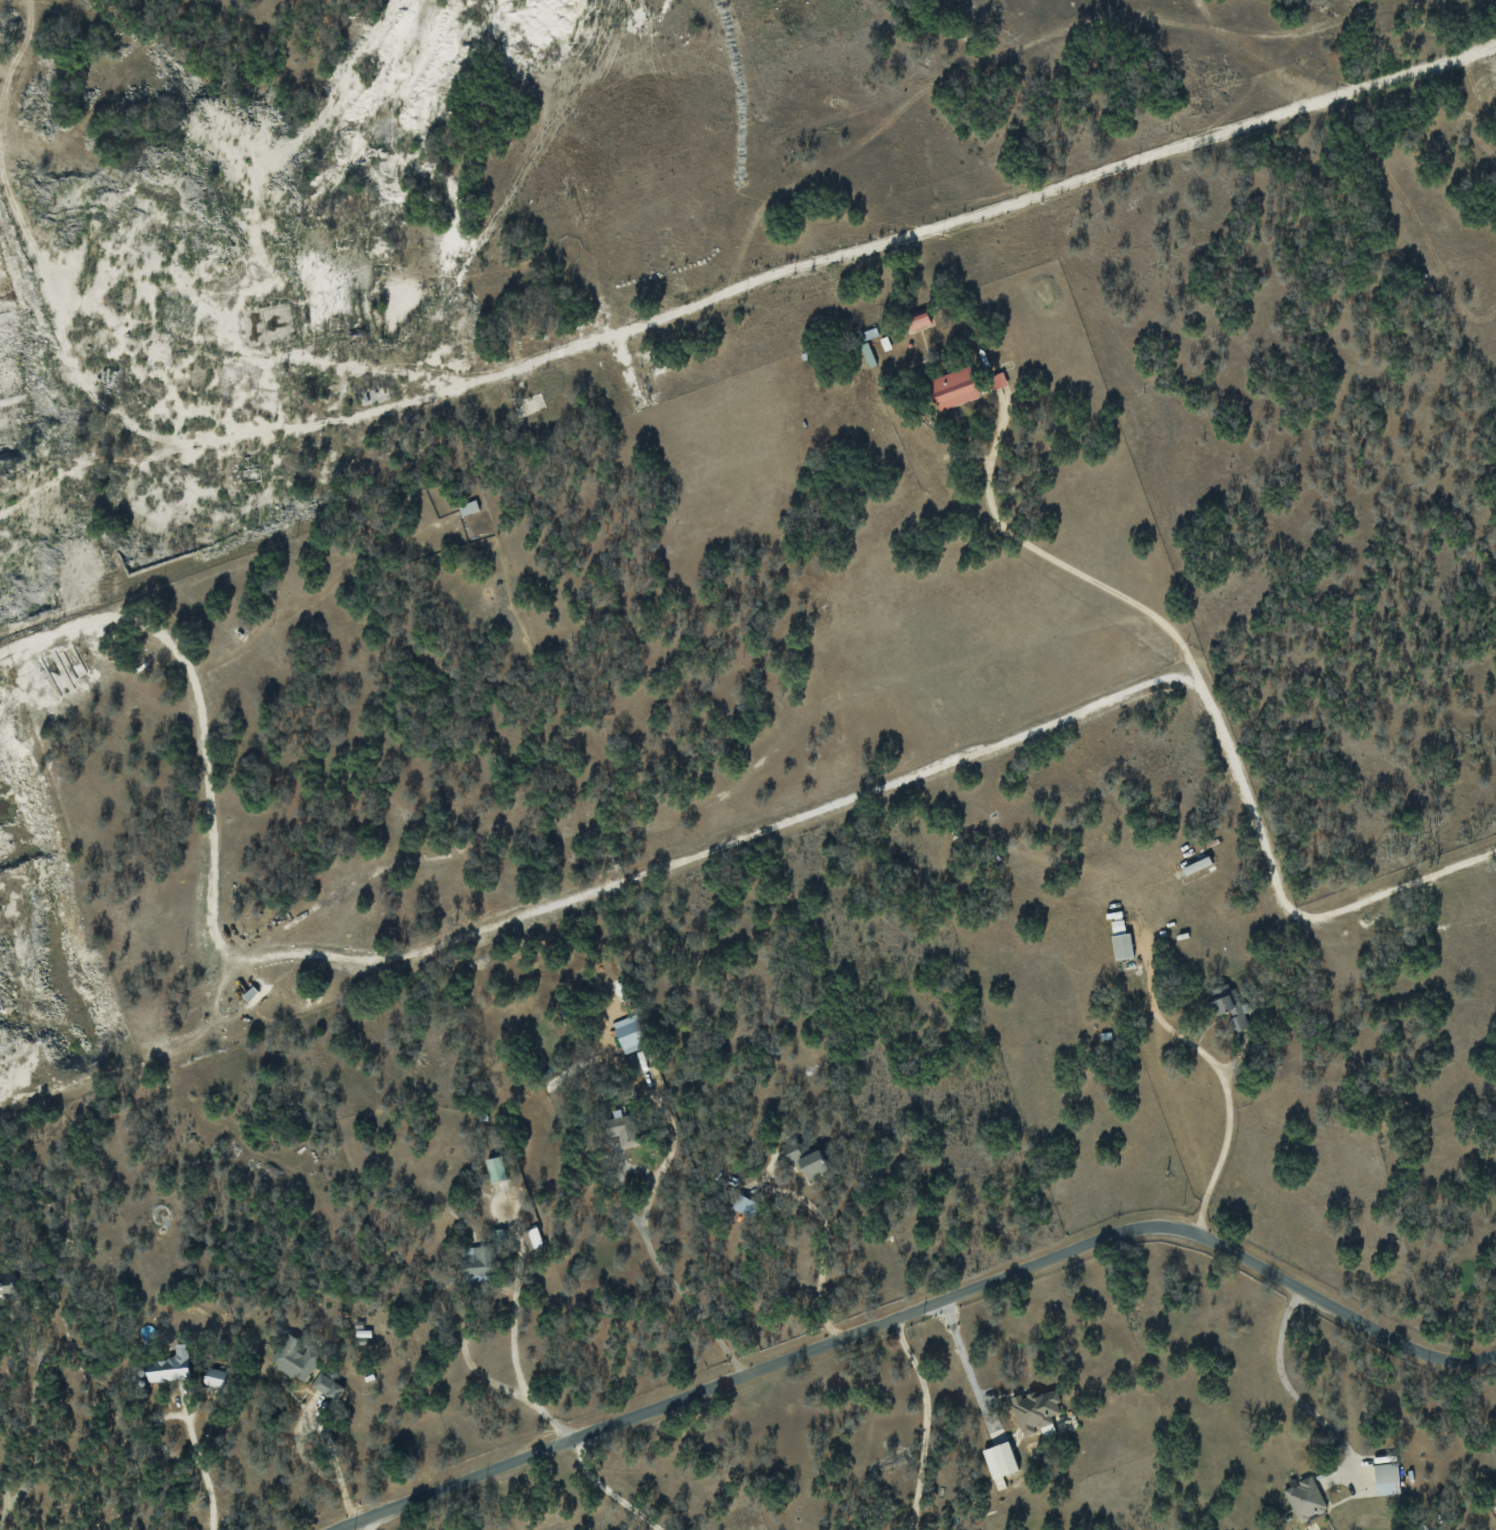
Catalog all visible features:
road: (937, 225)
building: (917, 320)
building: (953, 388)
building: (467, 507)
road: (1068, 566)
road: (766, 827)
building: (1121, 945)
building: (1228, 1004)
building: (627, 1034)
road: (1223, 1078)
building: (621, 1129)
building: (790, 1149)
building: (812, 1163)
building: (496, 1169)
building: (744, 1205)
building: (531, 1238)
road: (823, 1249)
building: (476, 1263)
road: (665, 1272)
road: (507, 1289)
building: (8, 1292)
road: (912, 1311)
building: (295, 1357)
building: (169, 1366)
road: (967, 1367)
building: (215, 1377)
building: (322, 1383)
road: (1286, 1387)
building: (1034, 1409)
road: (30, 1414)
road: (159, 1417)
road: (924, 1421)
road: (317, 1422)
building: (999, 1459)
building: (1386, 1478)
road: (607, 1489)
road: (207, 1492)
building: (1304, 1498)
road: (3, 1500)
road: (367, 1521)

